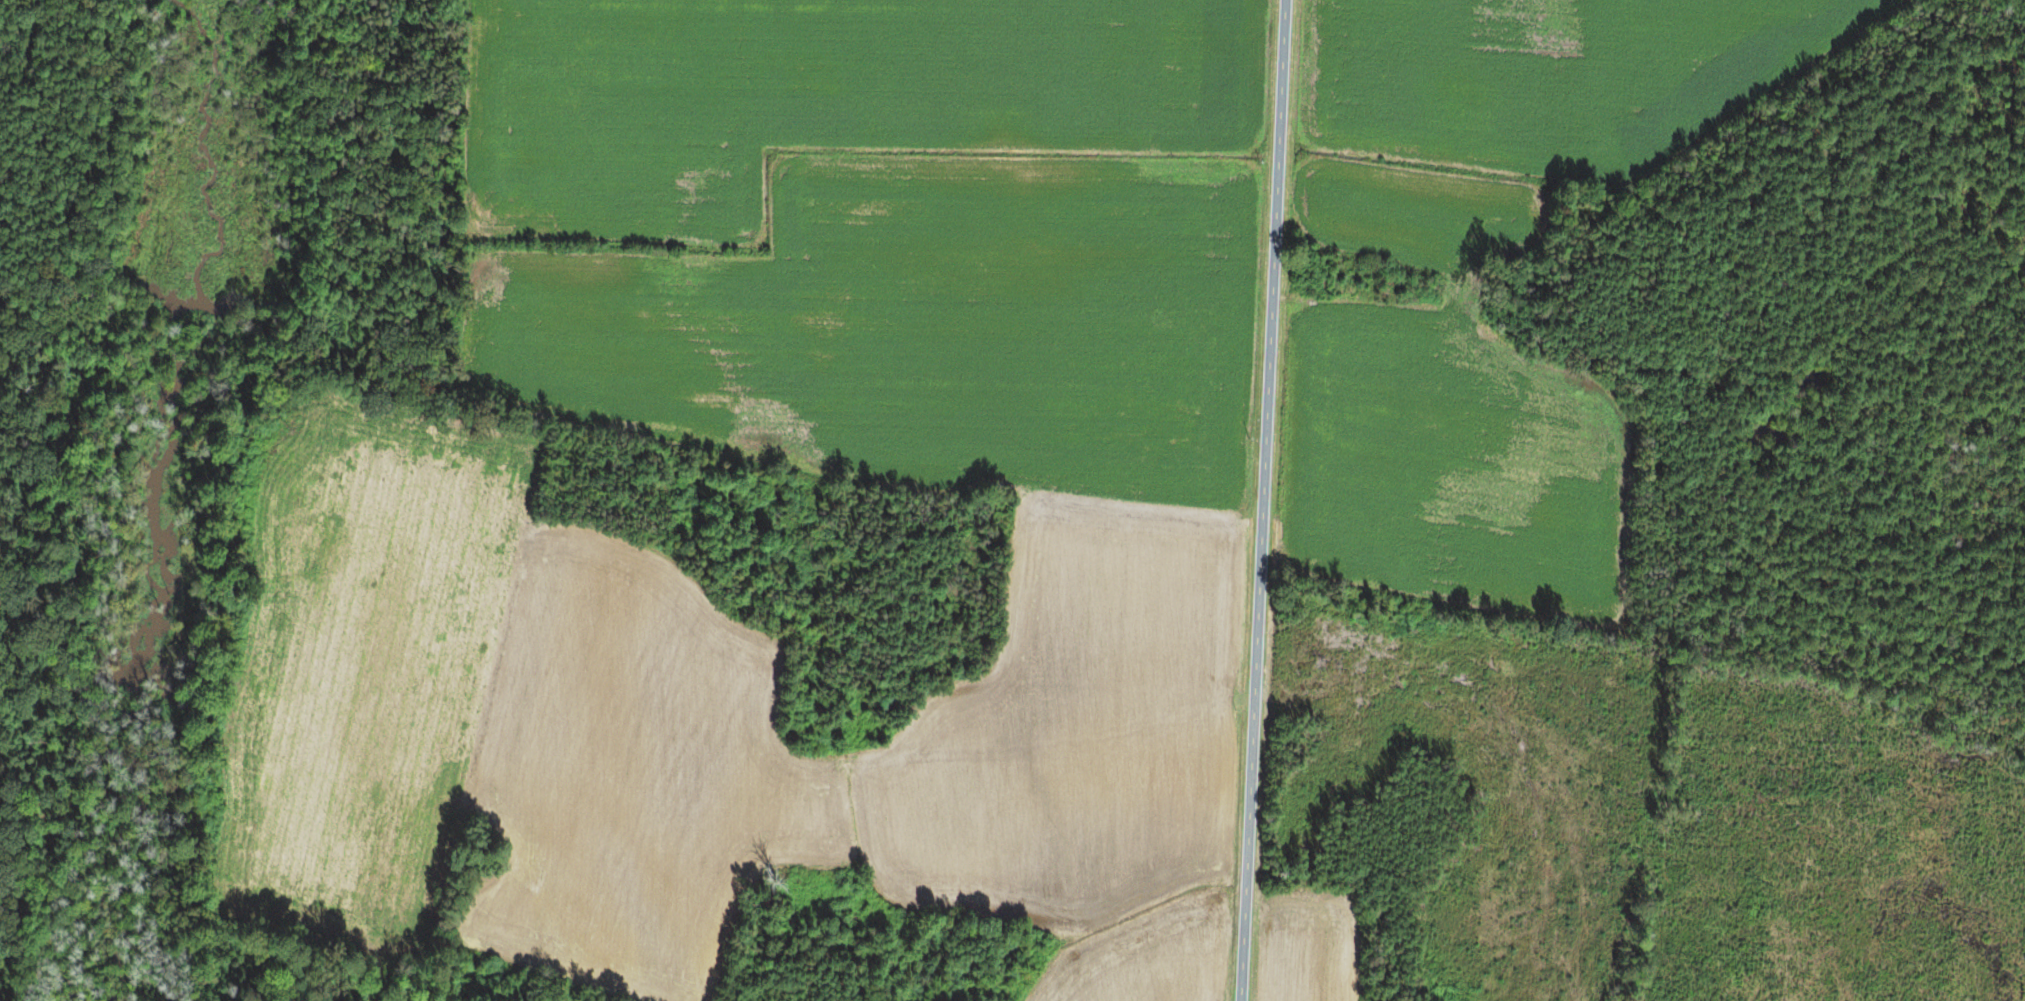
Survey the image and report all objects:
building: (1335, 275)
building: (1379, 286)
road: (1261, 500)

